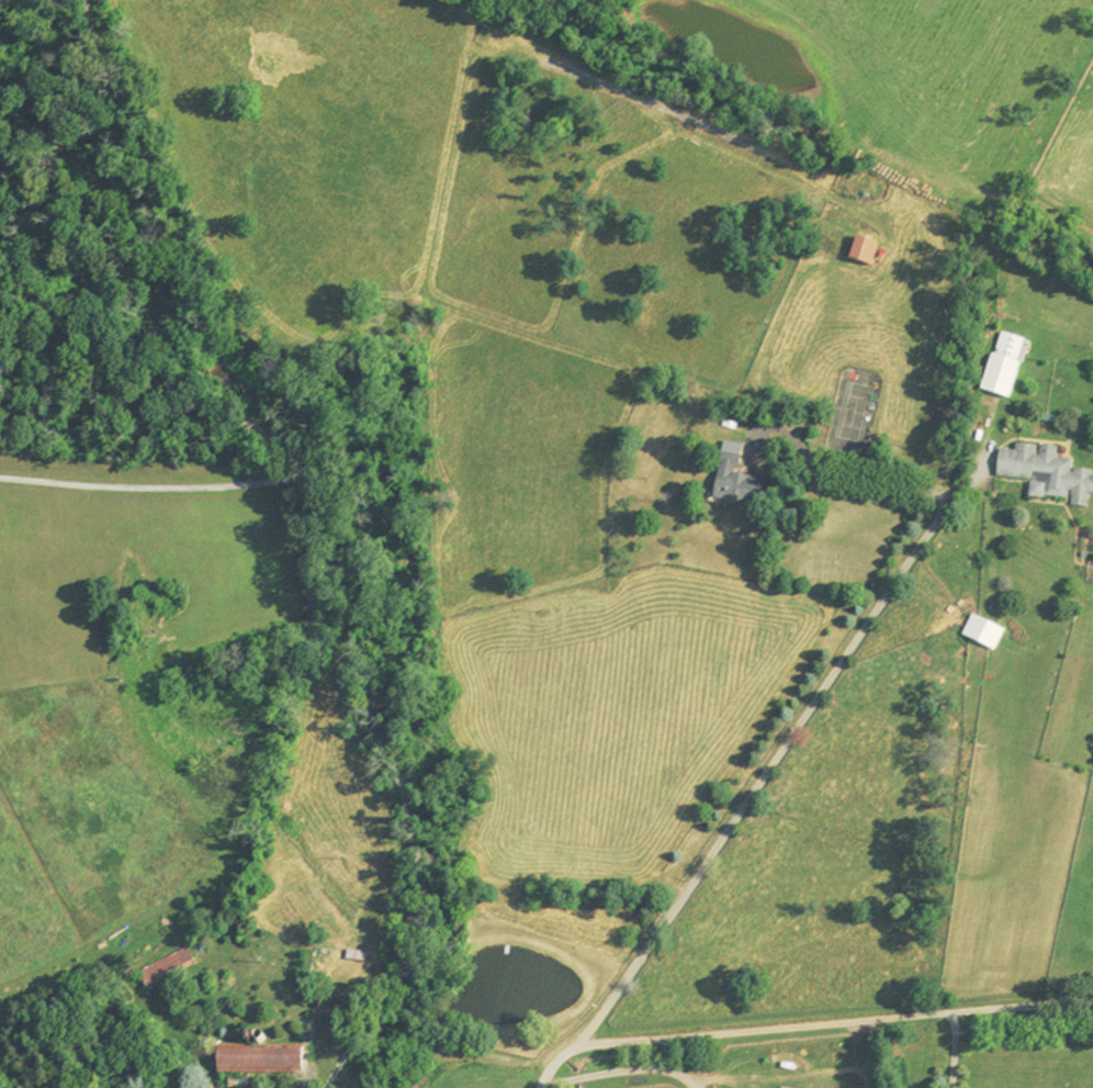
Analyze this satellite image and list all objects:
road: (178, 246)
building: (858, 254)
building: (776, 347)
building: (1001, 367)
park: (856, 412)
road: (984, 457)
building: (1044, 475)
road: (861, 480)
building: (732, 481)
building: (980, 635)
road: (360, 644)
road: (765, 774)
building: (161, 971)
road: (807, 1022)
road: (951, 1048)
building: (253, 1064)
road: (622, 1070)

